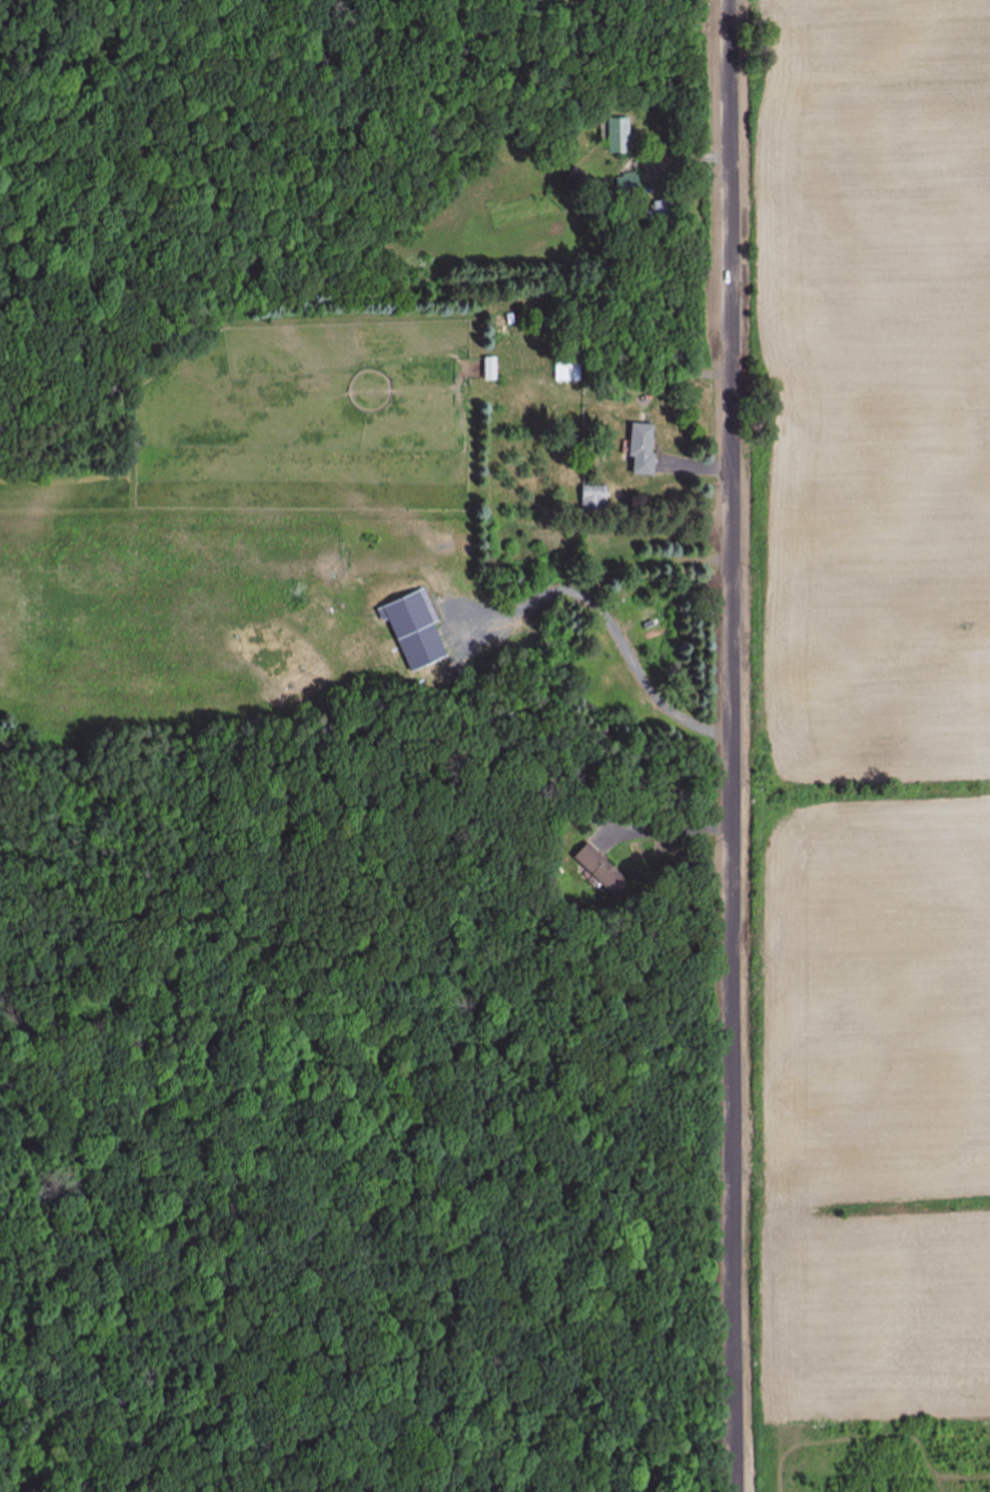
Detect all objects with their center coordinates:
building: (617, 136)
building: (627, 187)
building: (663, 213)
building: (568, 371)
building: (641, 450)
building: (593, 499)
crop: (864, 706)
road: (735, 746)
building: (598, 870)

